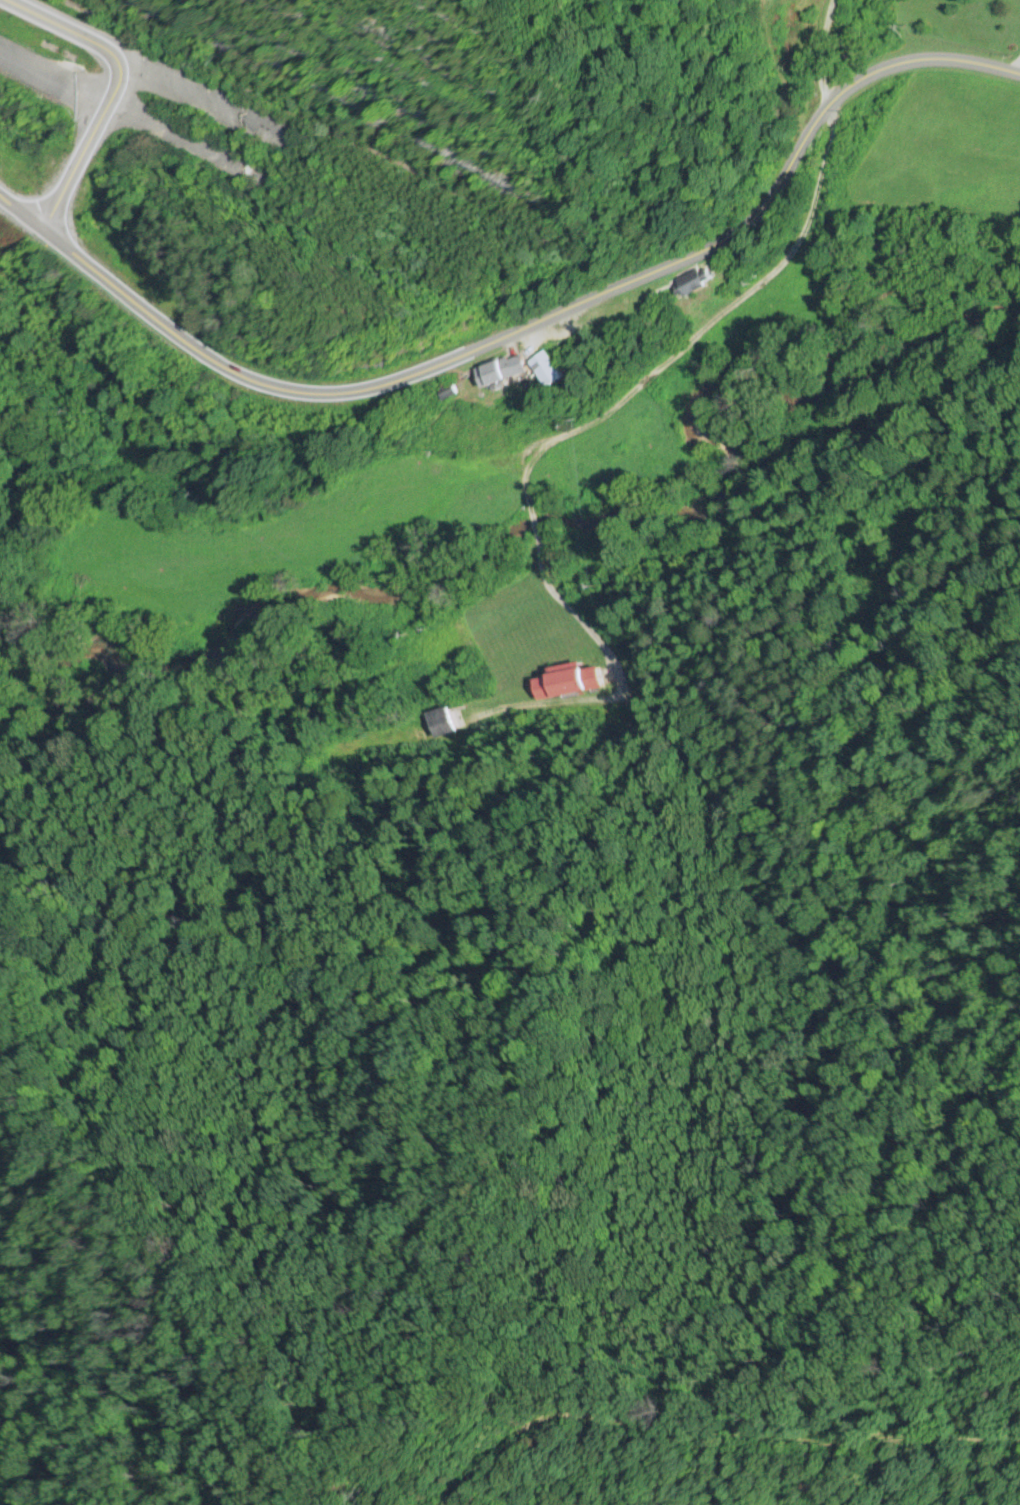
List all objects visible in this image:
road: (63, 19)
road: (118, 67)
road: (75, 160)
road: (523, 326)
road: (626, 392)

